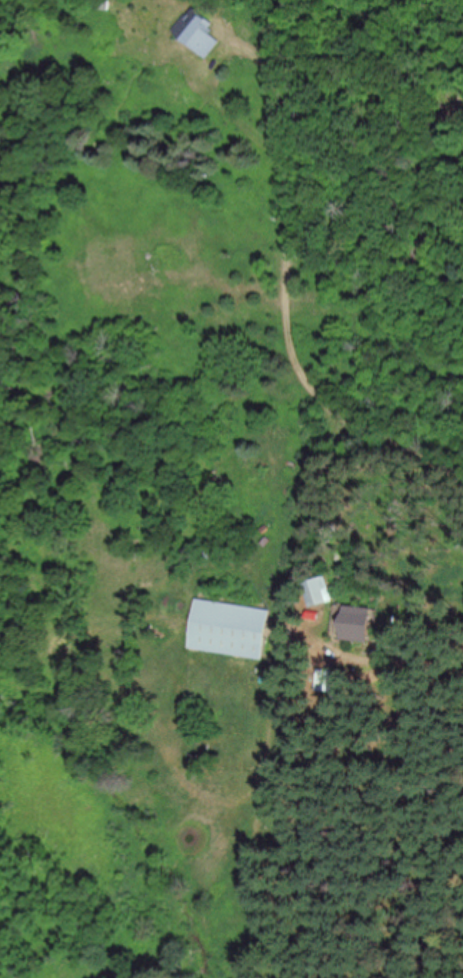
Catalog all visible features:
building: (99, 5)
building: (194, 33)
road: (289, 311)
building: (315, 592)
building: (354, 624)
building: (228, 630)

